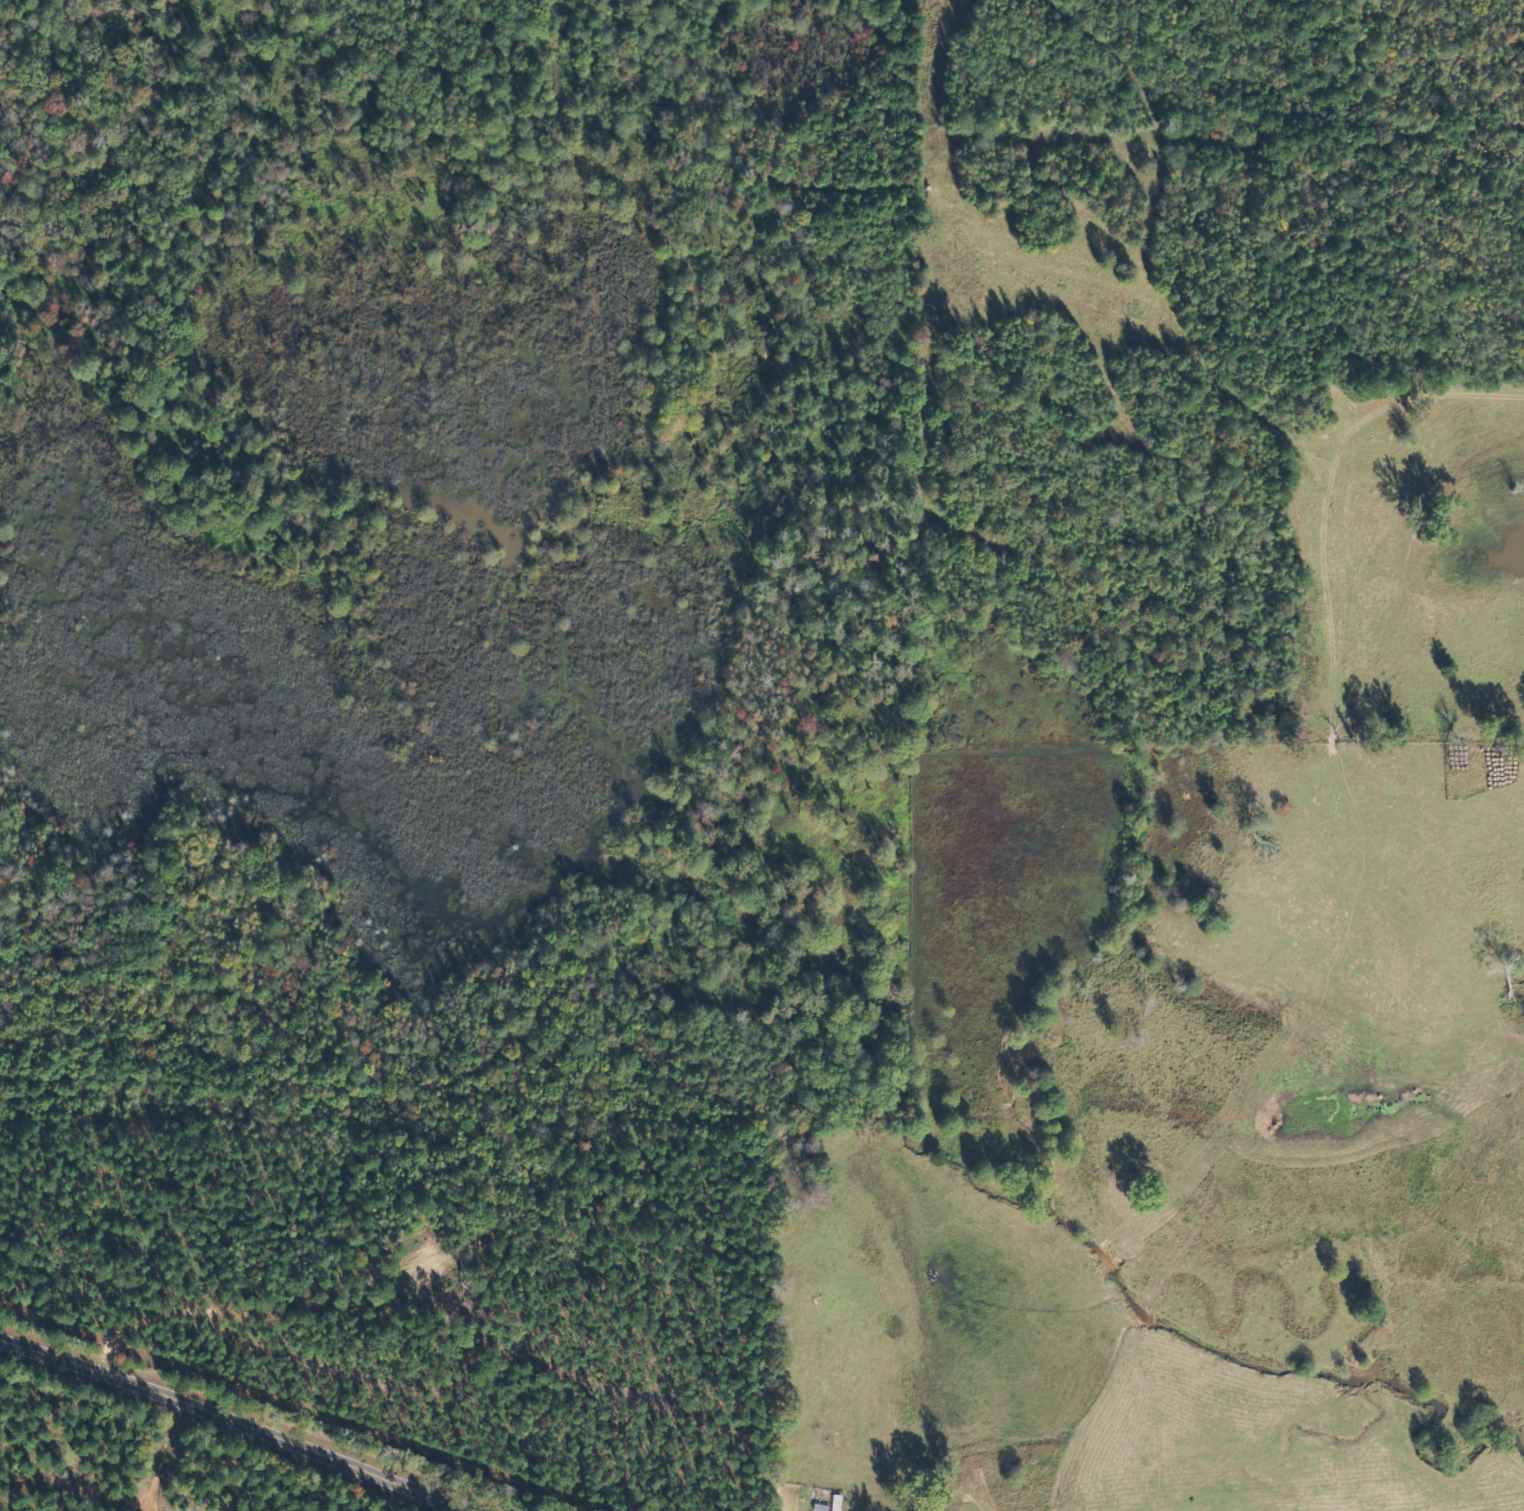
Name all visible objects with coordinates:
road: (236, 1421)

